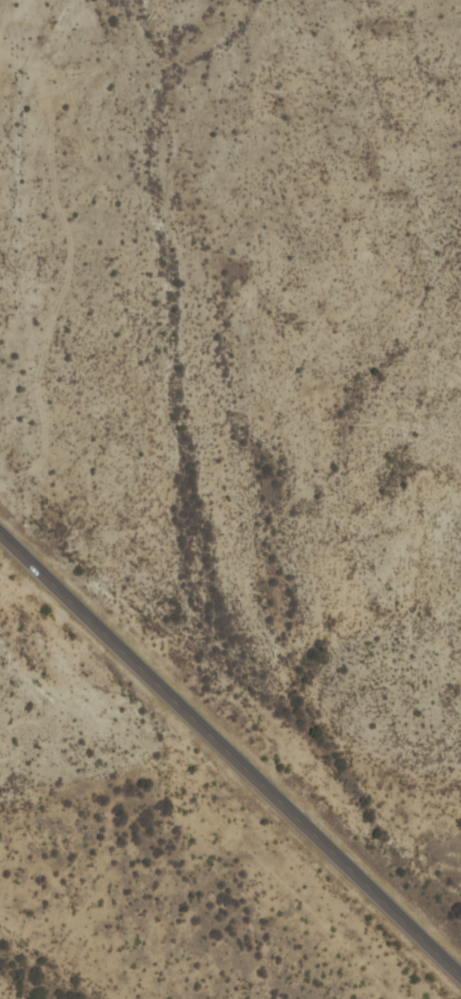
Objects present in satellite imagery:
road: (230, 757)
power tower: (245, 984)

